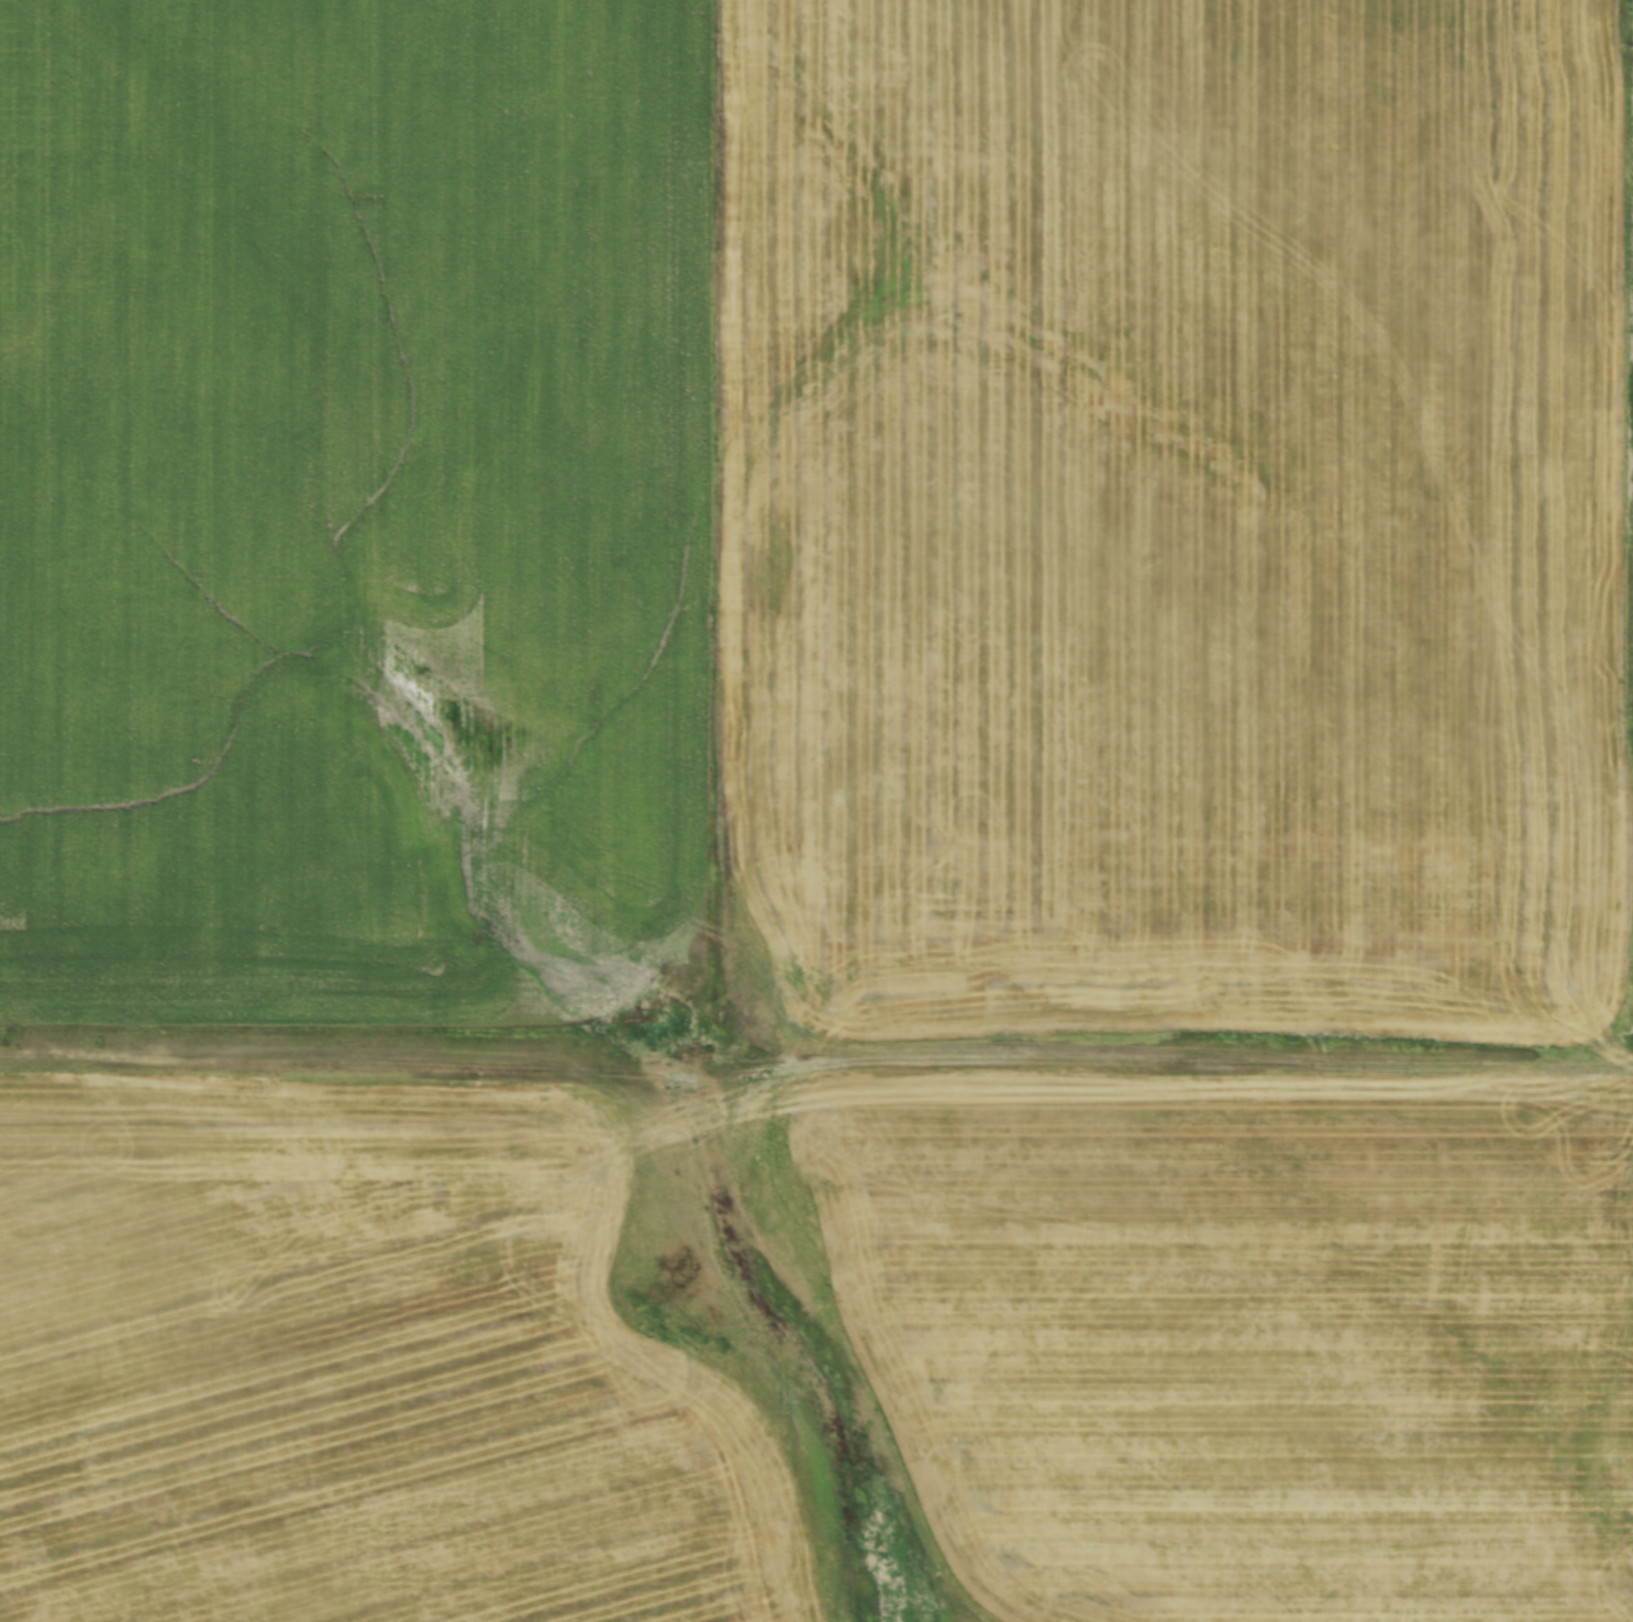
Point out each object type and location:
road: (815, 1070)

